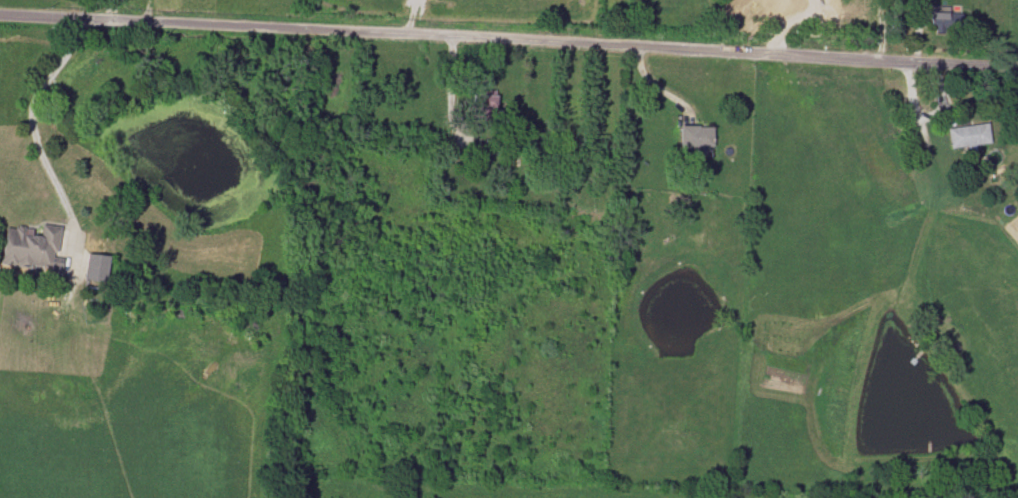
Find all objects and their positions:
building: (945, 15)
road: (509, 34)
road: (450, 87)
road: (32, 115)
building: (967, 135)
building: (694, 136)
building: (32, 247)
building: (95, 267)

